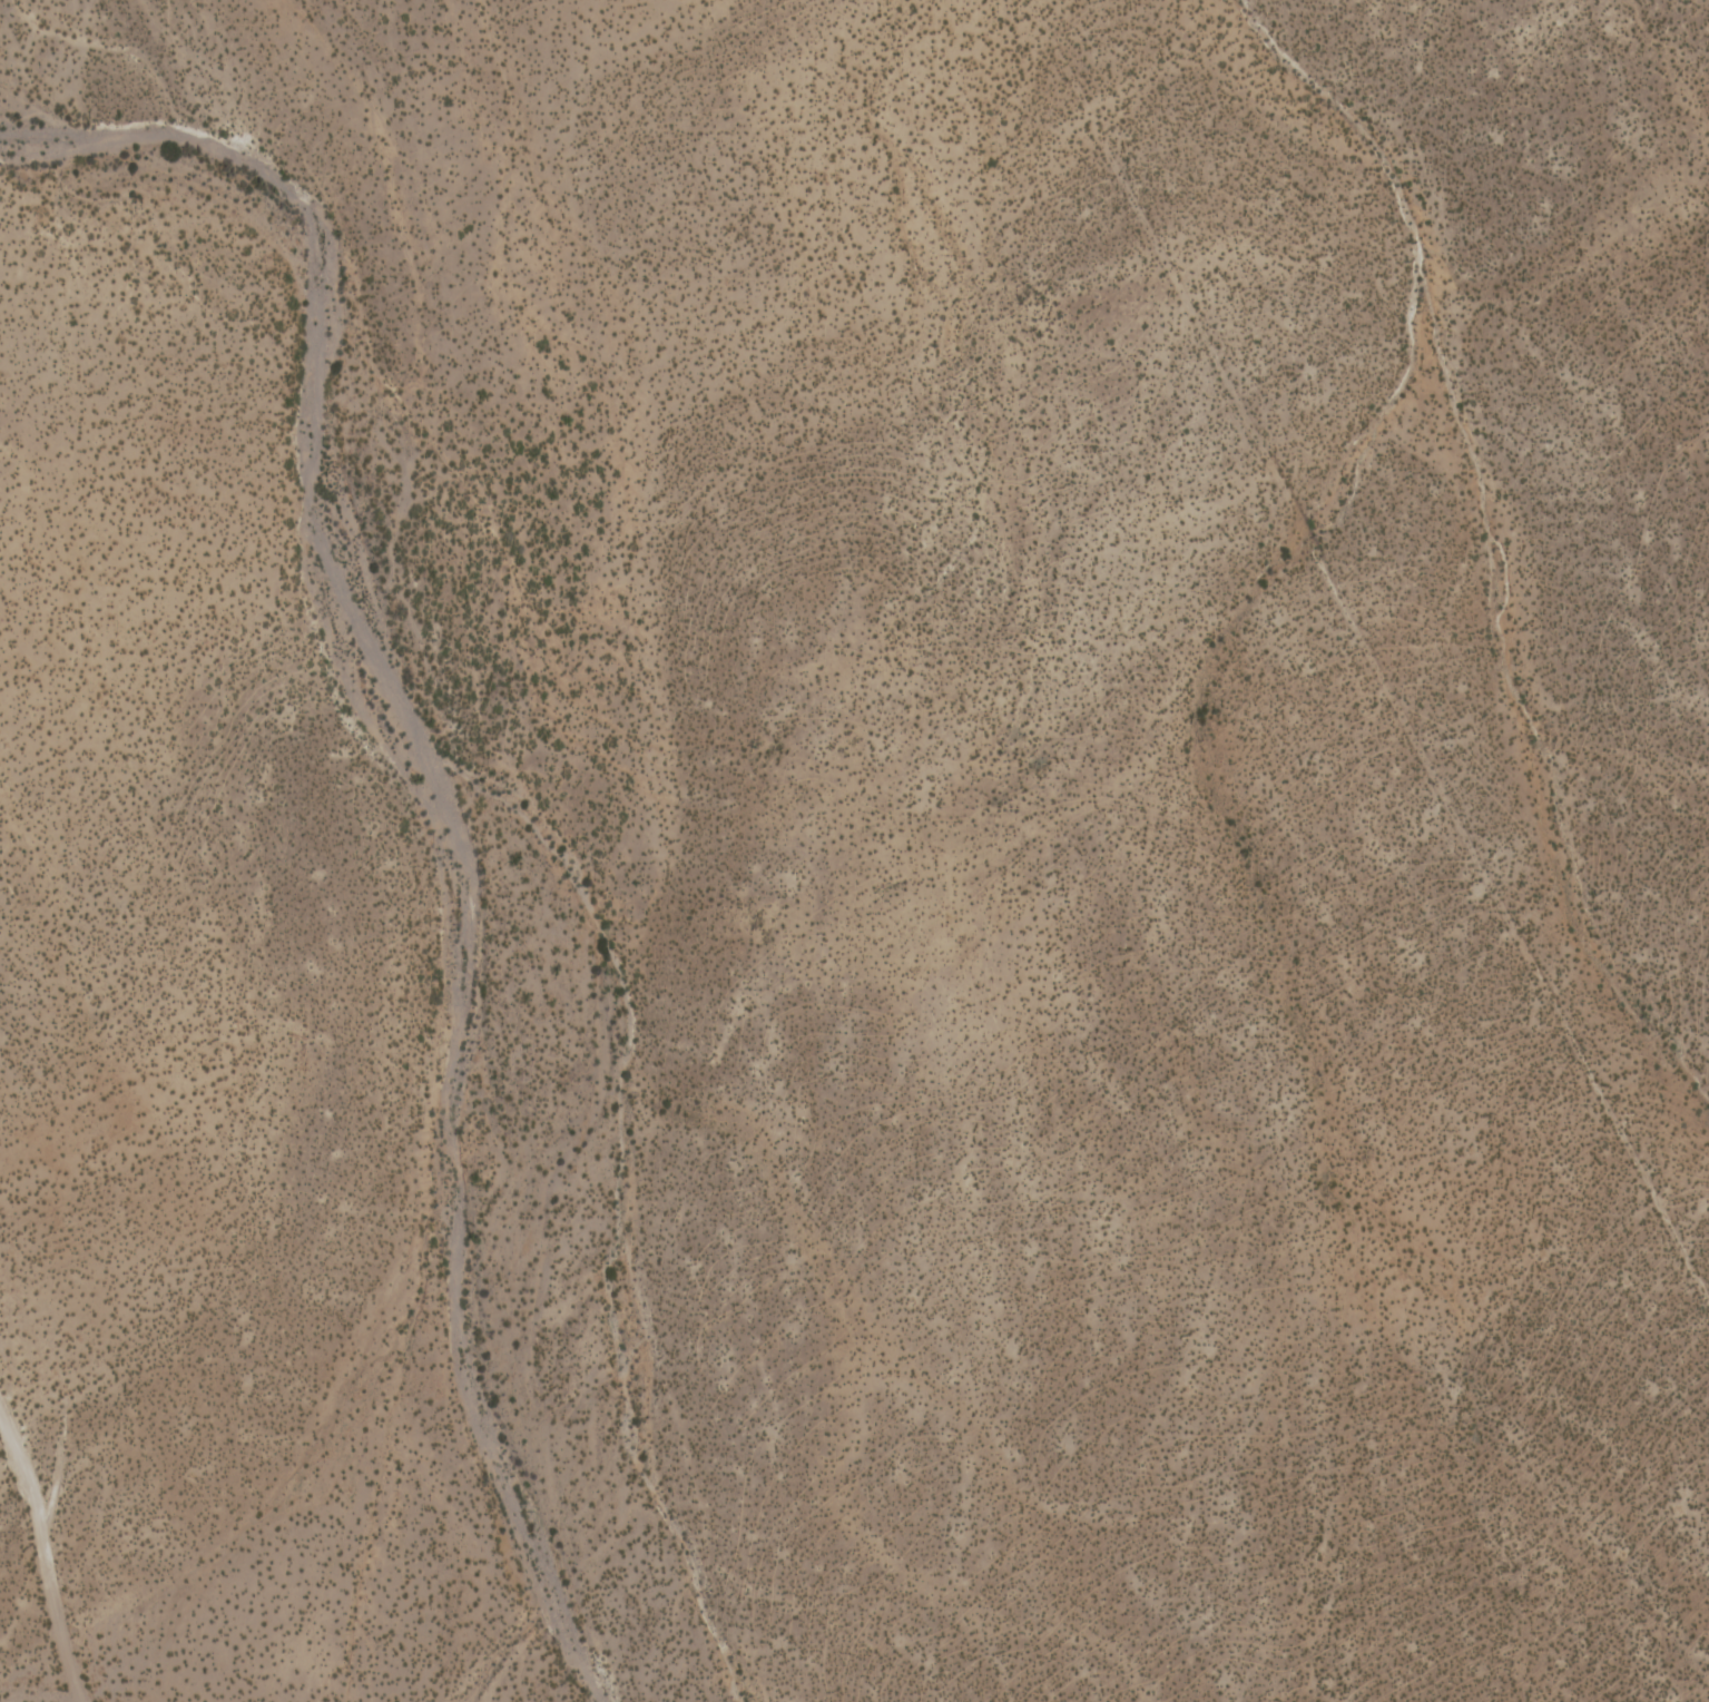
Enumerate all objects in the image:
road: (38, 1563)

